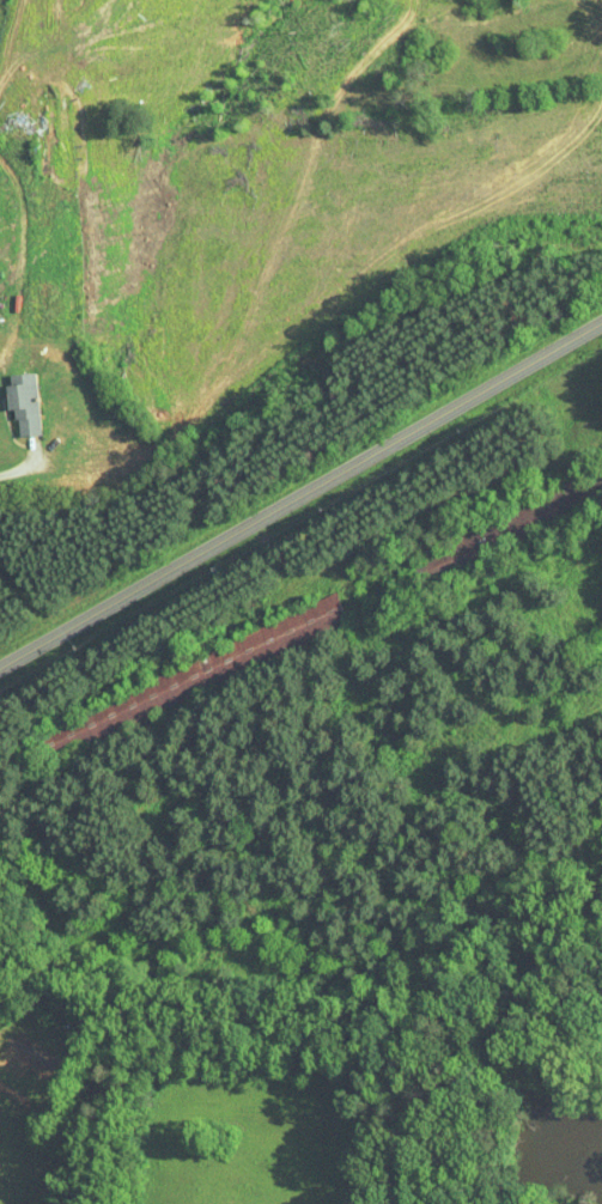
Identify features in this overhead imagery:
road: (11, 42)
building: (11, 397)
road: (22, 467)
road: (300, 494)

